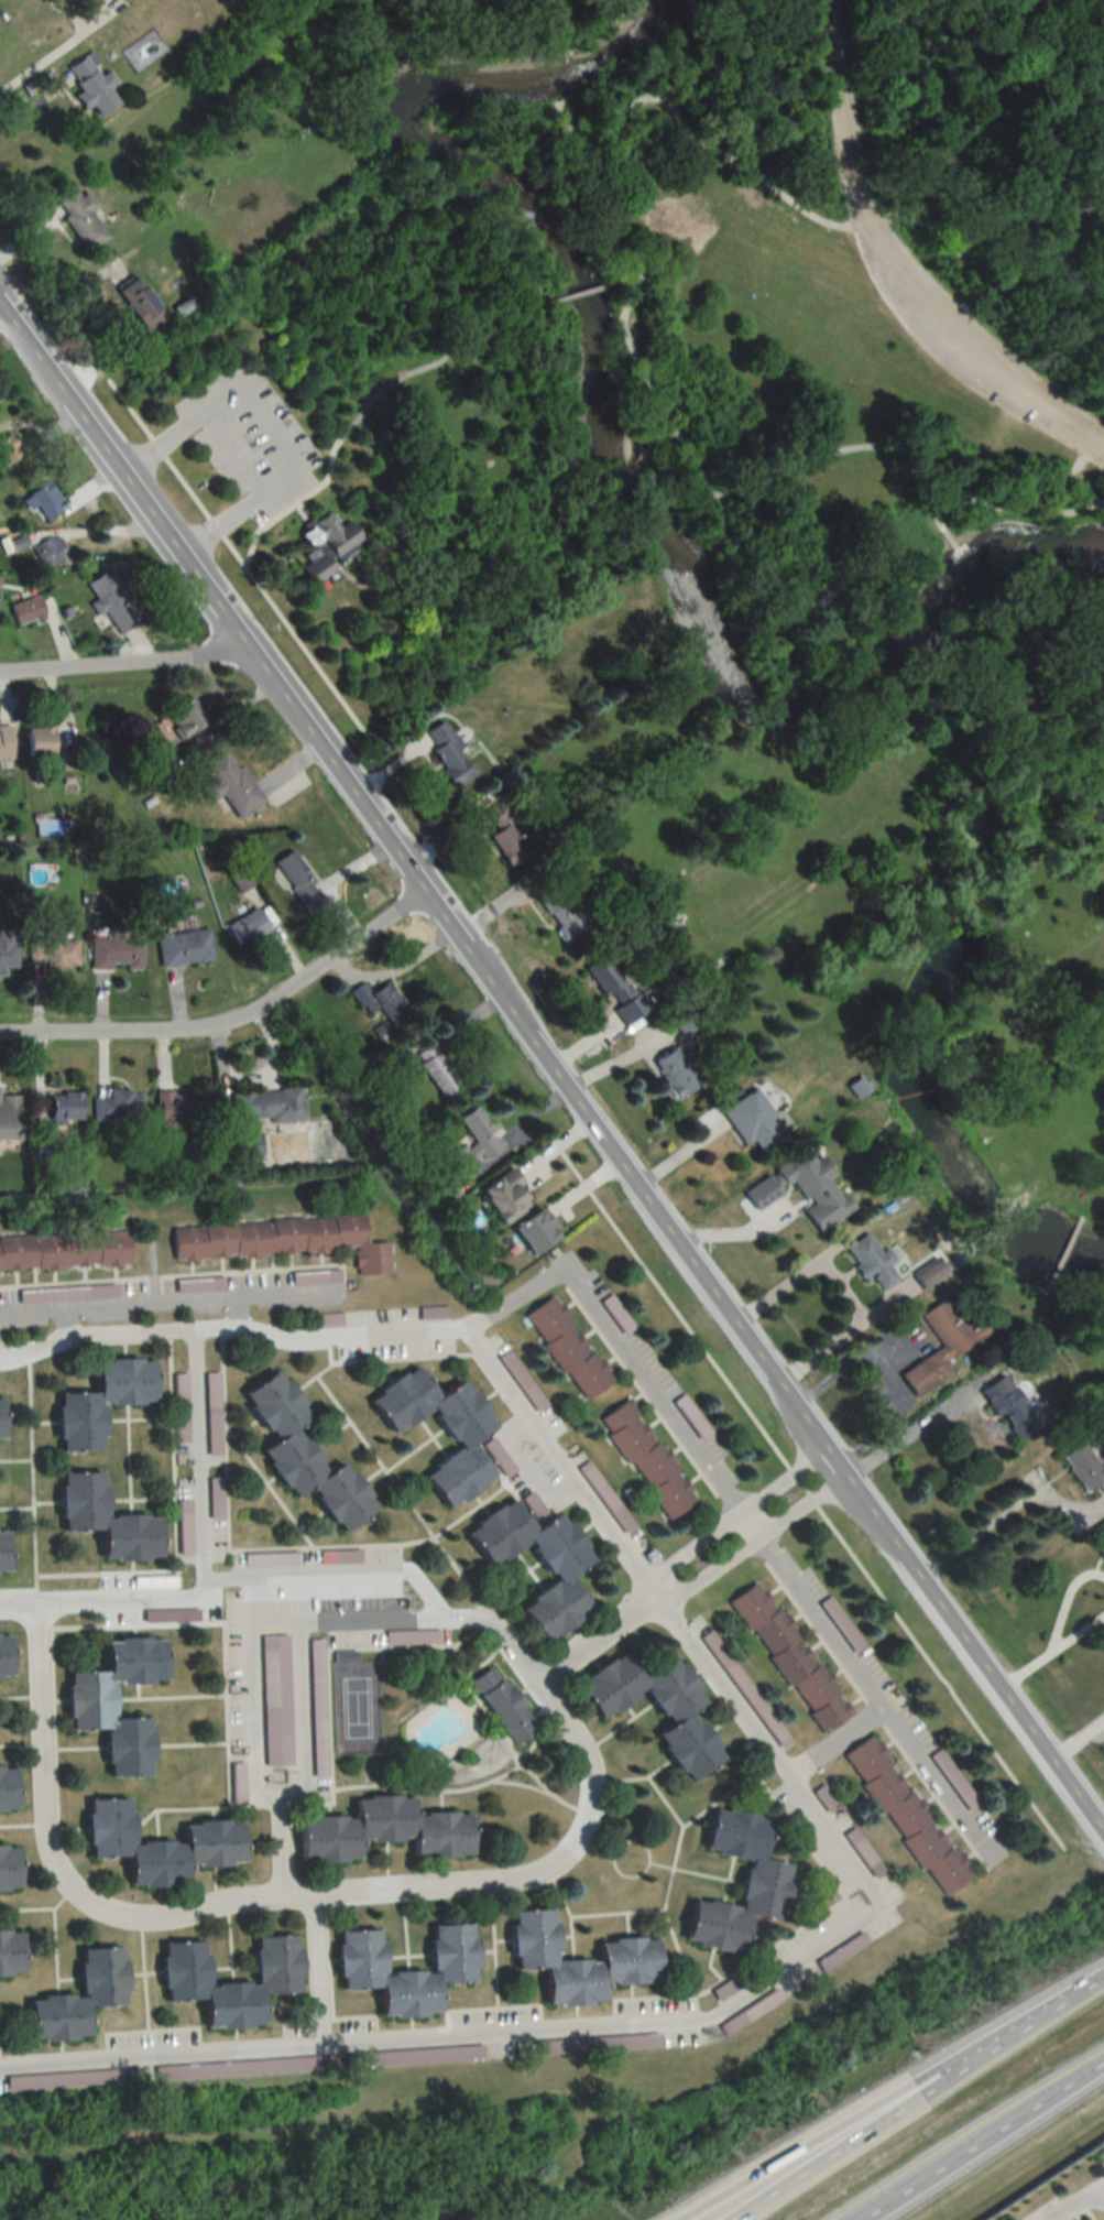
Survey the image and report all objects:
building: (86, 2)
road: (53, 50)
building: (89, 84)
road: (888, 216)
building: (77, 218)
road: (644, 264)
road: (896, 265)
park: (841, 284)
road: (562, 298)
building: (136, 304)
road: (3, 322)
parking lot: (974, 351)
road: (414, 373)
road: (658, 403)
parking lot: (249, 437)
road: (260, 438)
building: (7, 448)
river: (631, 463)
road: (222, 464)
road: (1064, 477)
road: (313, 488)
road: (1078, 489)
building: (45, 500)
road: (931, 505)
road: (300, 511)
road: (260, 526)
building: (327, 543)
road: (949, 547)
building: (50, 549)
road: (234, 555)
building: (109, 602)
building: (25, 609)
road: (127, 667)
building: (183, 718)
building: (33, 740)
building: (4, 743)
building: (446, 751)
building: (229, 785)
building: (502, 836)
building: (240, 879)
building: (299, 884)
road: (426, 890)
building: (559, 913)
building: (245, 926)
building: (183, 946)
building: (52, 950)
building: (4, 951)
building: (114, 953)
road: (395, 967)
building: (614, 989)
building: (379, 1001)
road: (232, 1019)
building: (436, 1069)
building: (1042, 1070)
building: (674, 1071)
building: (856, 1087)
building: (63, 1107)
building: (117, 1107)
building: (173, 1111)
building: (262, 1116)
building: (8, 1118)
building: (751, 1122)
building: (473, 1140)
building: (801, 1188)
building: (502, 1196)
building: (532, 1231)
building: (280, 1240)
building: (63, 1251)
building: (870, 1261)
building: (314, 1276)
road: (841, 1288)
road: (287, 1289)
road: (154, 1301)
road: (511, 1302)
road: (30, 1310)
building: (616, 1314)
building: (940, 1345)
building: (567, 1347)
road: (883, 1373)
road: (653, 1393)
building: (97, 1403)
building: (1008, 1407)
building: (179, 1408)
building: (211, 1414)
road: (906, 1435)
building: (460, 1438)
building: (299, 1456)
building: (646, 1458)
building: (1079, 1462)
road: (524, 1463)
road: (203, 1465)
road: (806, 1491)
building: (215, 1499)
building: (531, 1503)
road: (733, 1519)
building: (101, 1521)
road: (748, 1525)
road: (976, 1532)
road: (750, 1541)
building: (1098, 1544)
building: (1, 1554)
building: (556, 1571)
road: (21, 1601)
building: (841, 1624)
road: (592, 1634)
building: (411, 1637)
road: (1051, 1648)
road: (974, 1654)
building: (3, 1656)
building: (789, 1656)
building: (275, 1700)
road: (877, 1700)
building: (86, 1701)
building: (501, 1705)
building: (316, 1708)
building: (654, 1708)
road: (303, 1716)
road: (1075, 1735)
road: (835, 1743)
road: (254, 1763)
building: (953, 1781)
building: (10, 1787)
road: (804, 1799)
building: (905, 1815)
building: (381, 1829)
building: (155, 1843)
building: (861, 1848)
building: (11, 1868)
road: (535, 1869)
building: (762, 1881)
building: (448, 1950)
building: (12, 1951)
building: (576, 1959)
road: (317, 1971)
building: (261, 1981)
building: (75, 1996)
road: (1012, 2032)
building: (237, 2067)
building: (32, 2081)
road: (980, 2137)
road: (796, 2156)
road: (824, 2156)
road: (1100, 2195)
road: (1075, 2205)

